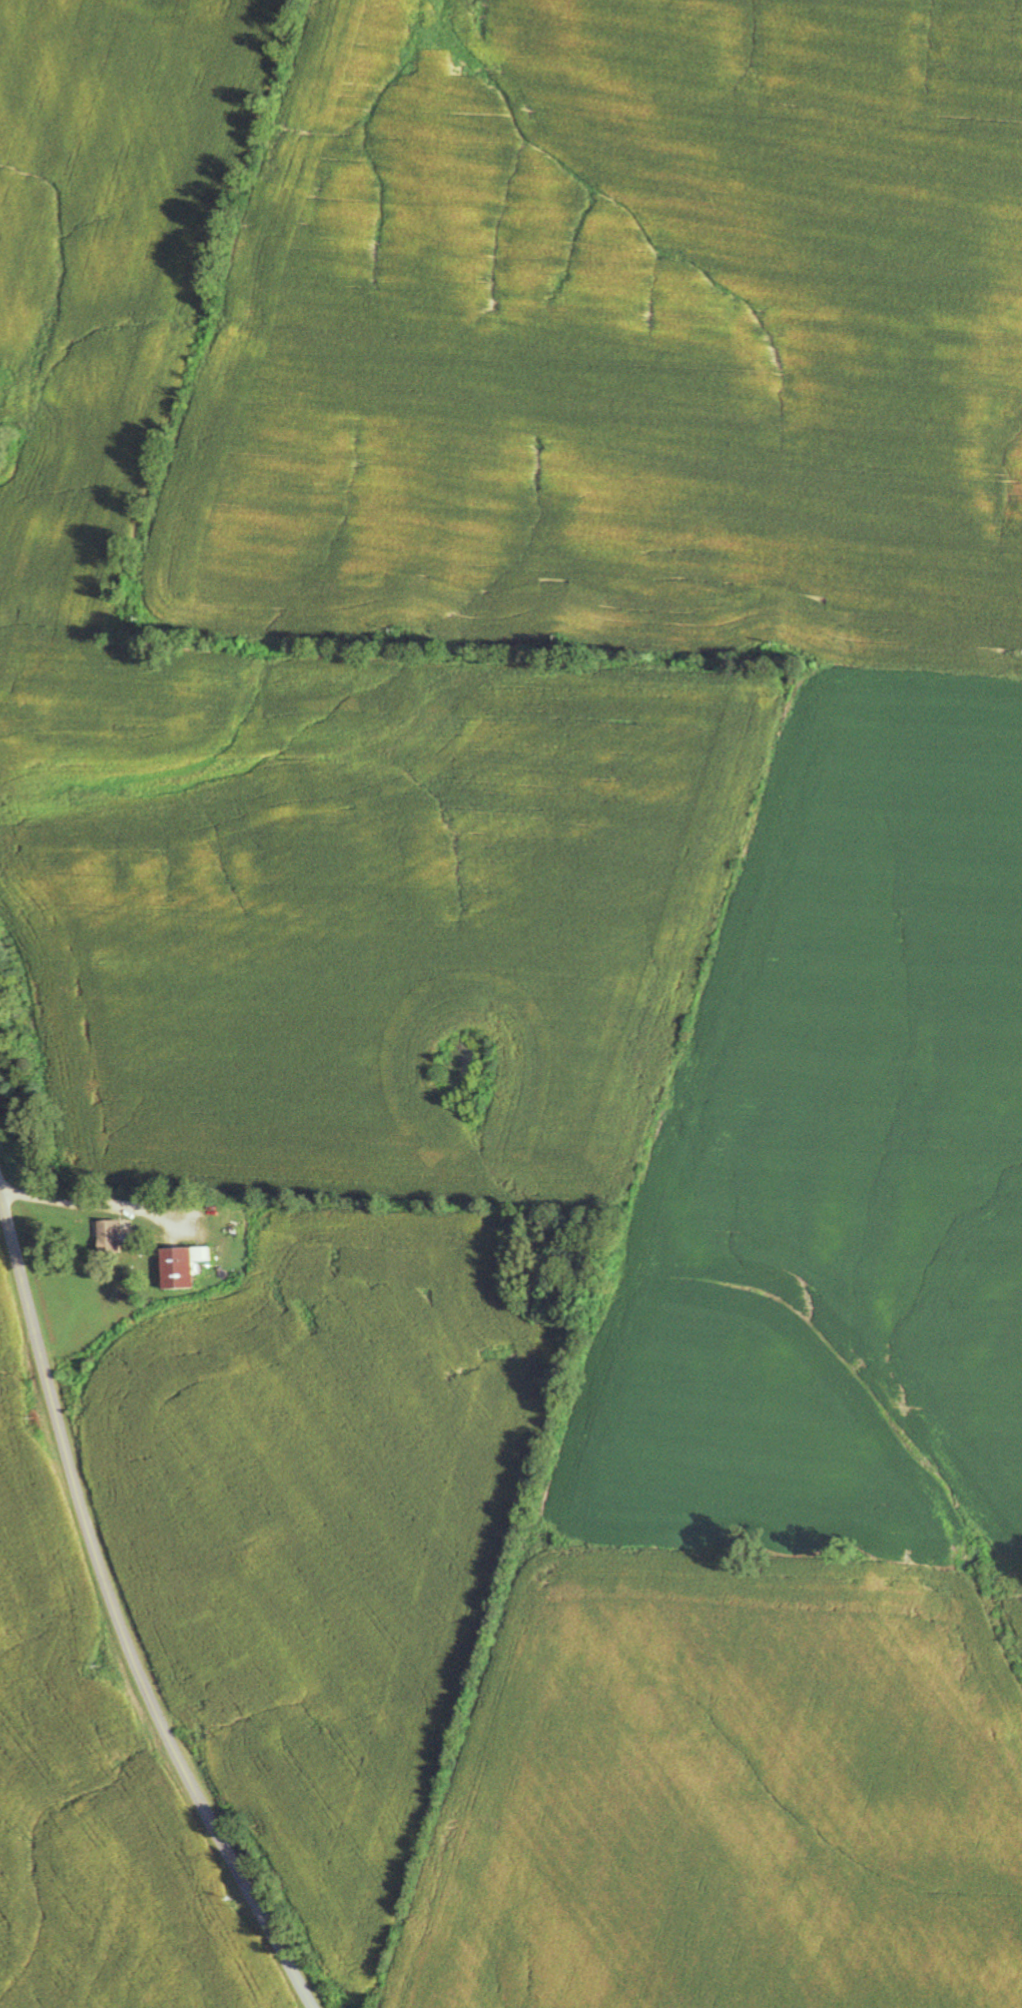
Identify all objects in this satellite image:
building: (110, 1238)
building: (183, 1267)
road: (118, 1613)

